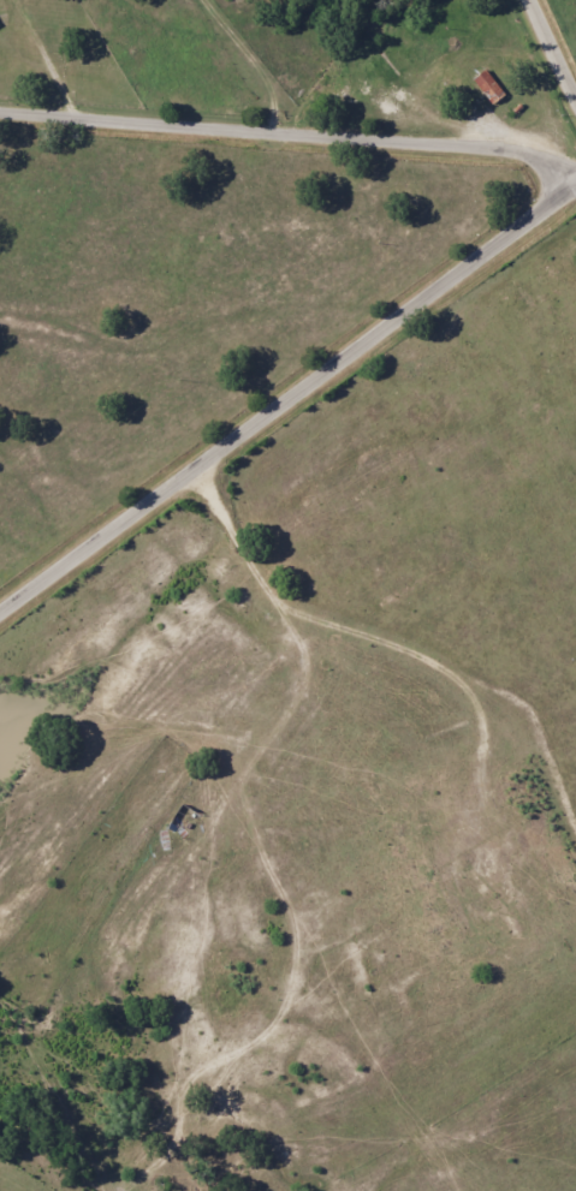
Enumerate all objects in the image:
road: (553, 44)
road: (49, 59)
road: (254, 64)
building: (488, 85)
road: (295, 136)
road: (287, 403)

